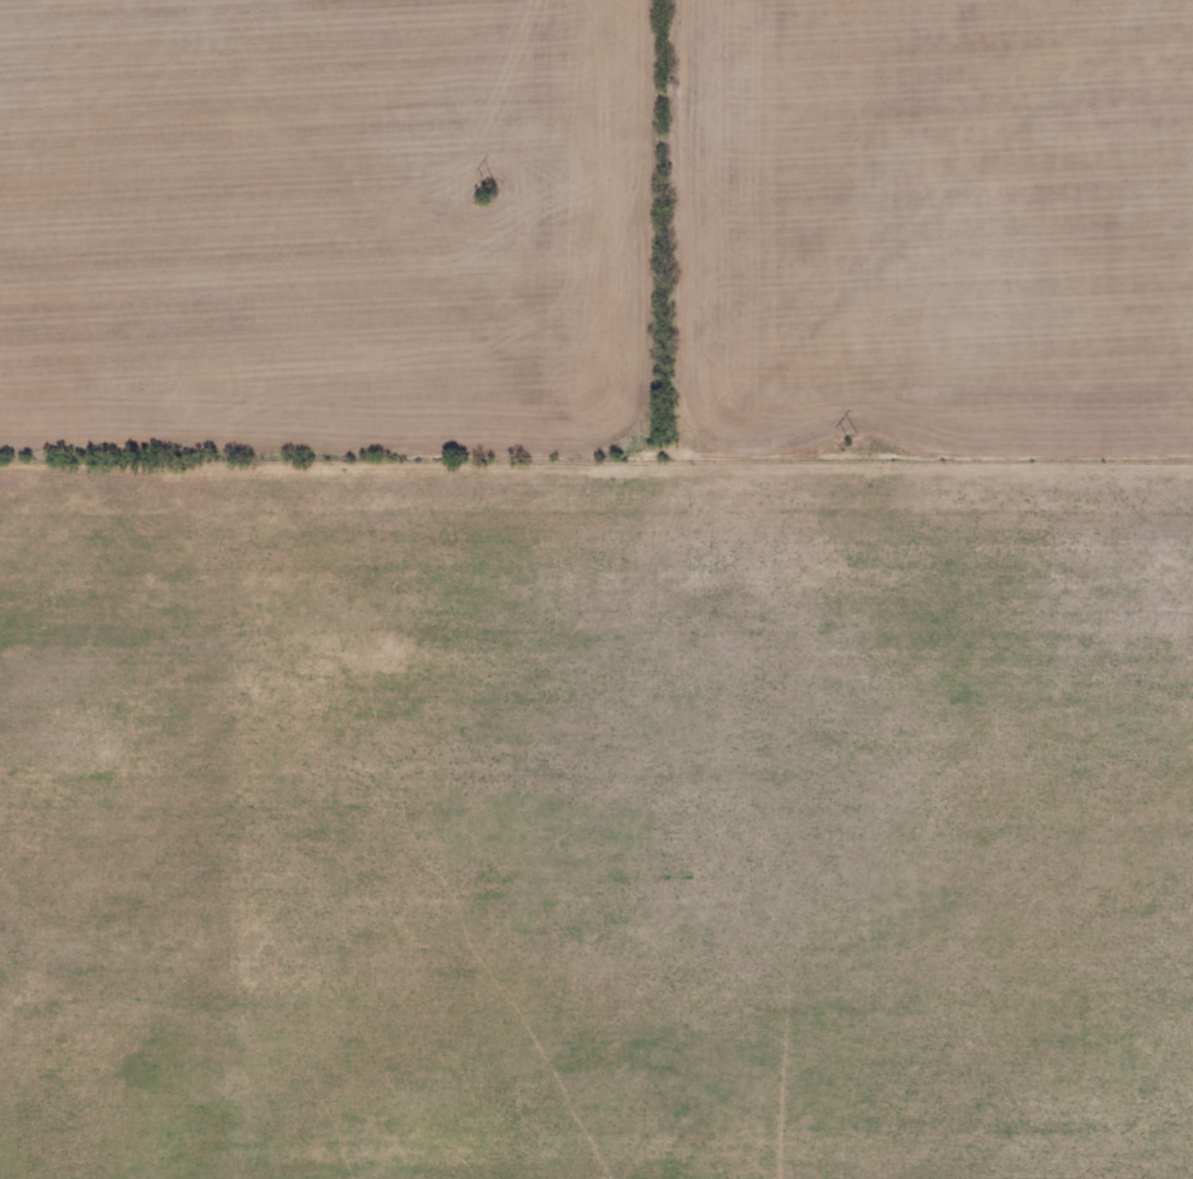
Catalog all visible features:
power tower: (486, 191)
power tower: (846, 443)

